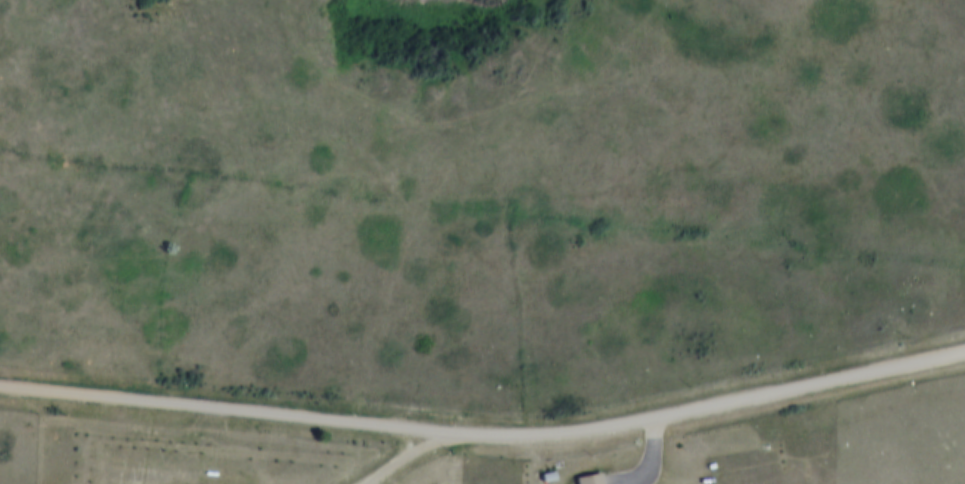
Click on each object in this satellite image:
road: (485, 428)
road: (395, 457)
road: (655, 459)
building: (555, 470)
building: (597, 475)

